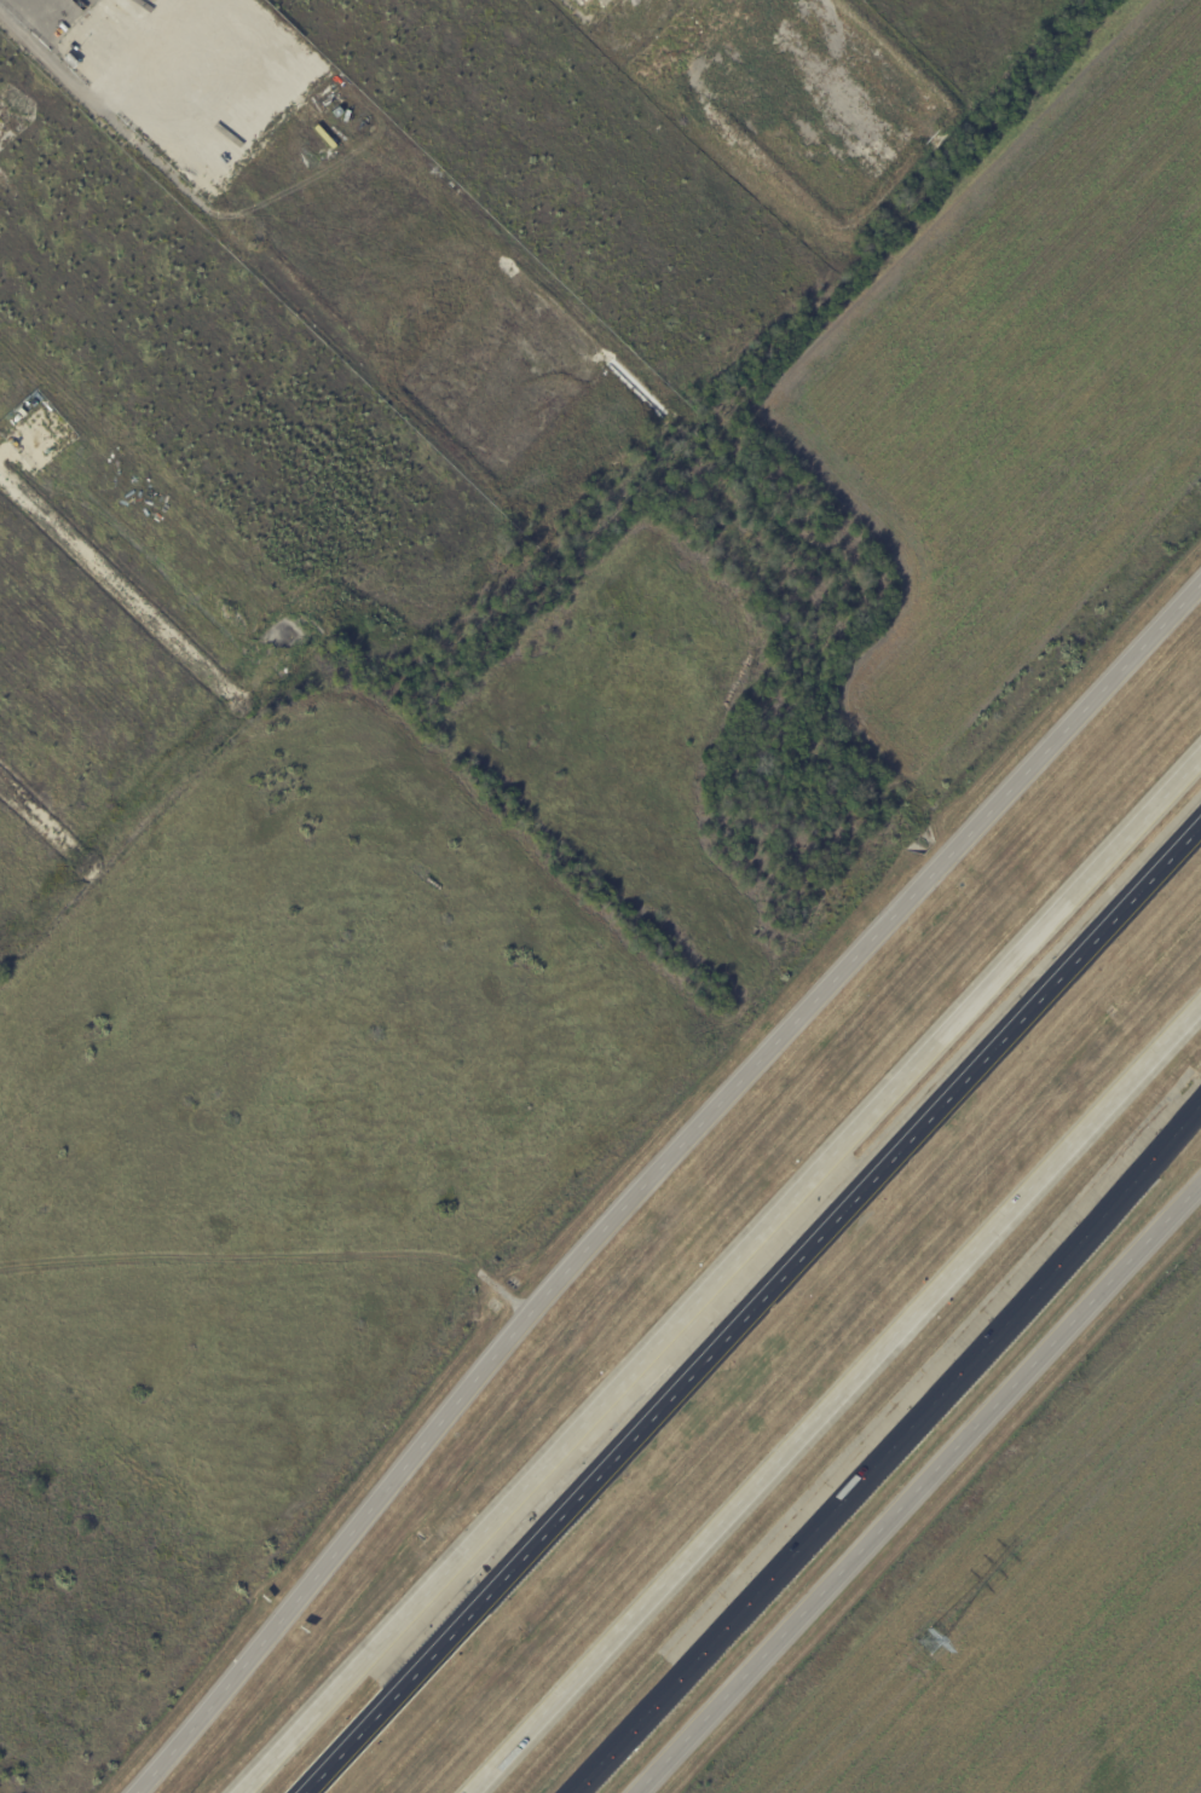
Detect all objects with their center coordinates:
road: (665, 1197)
road: (721, 1269)
road: (752, 1309)
road: (837, 1398)
road: (889, 1451)
road: (918, 1487)
power tower: (932, 1637)

